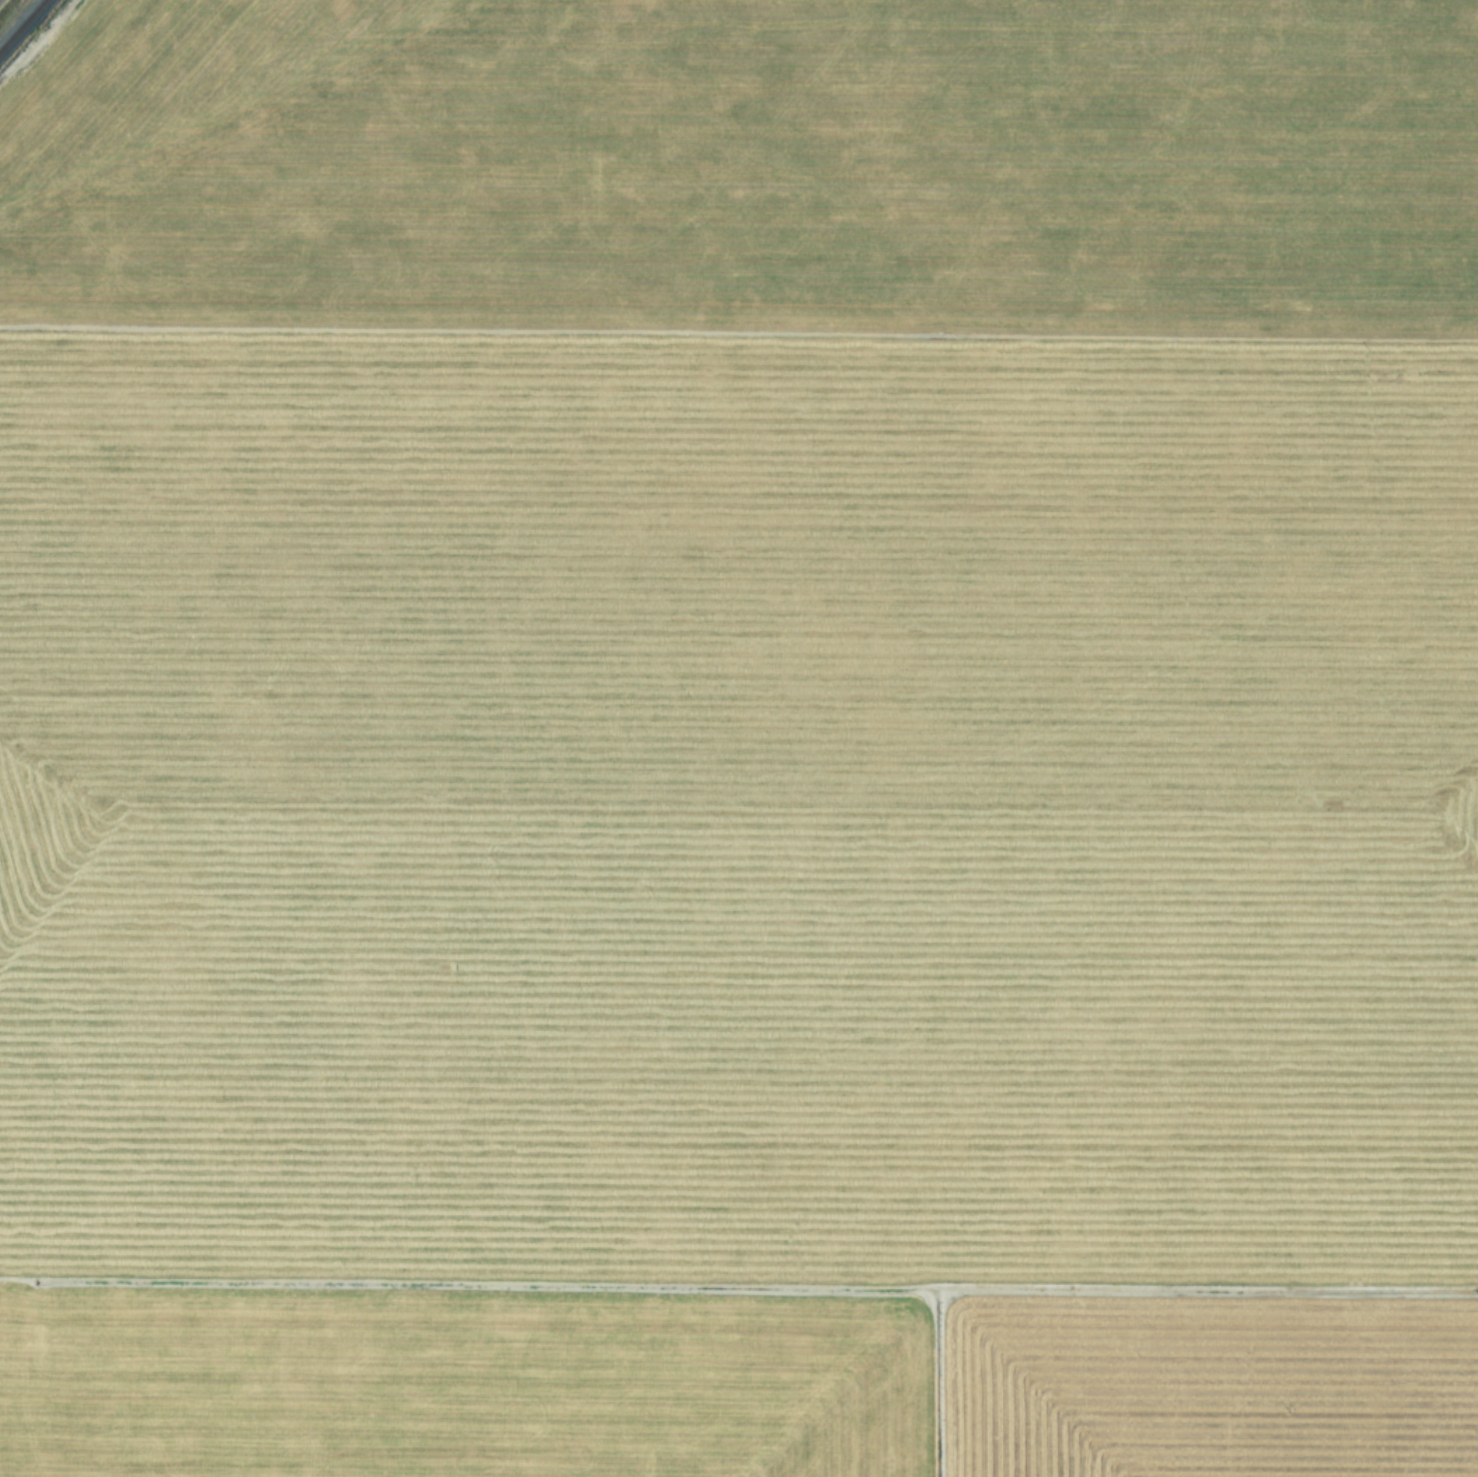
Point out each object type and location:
railway: (24, 27)
crop: (740, 740)

